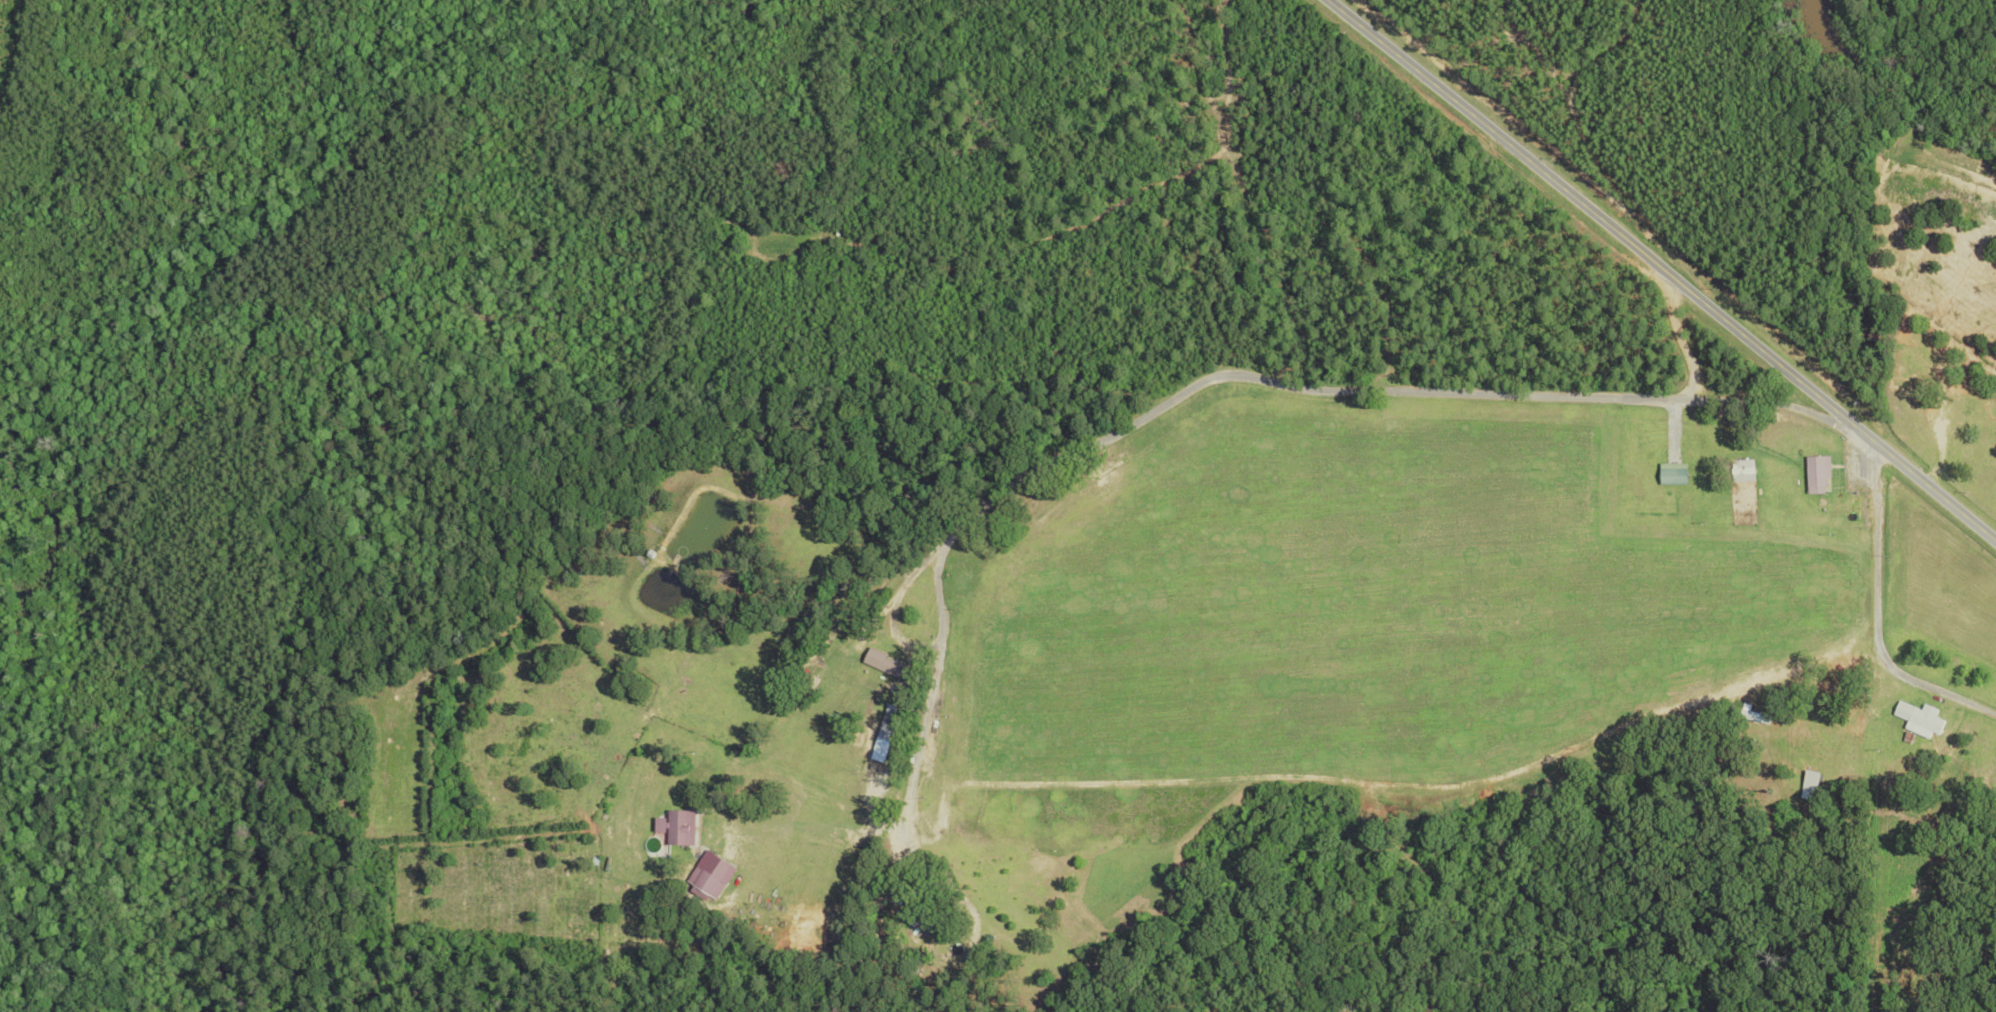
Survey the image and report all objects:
road: (1598, 220)
road: (1204, 379)
building: (1743, 470)
building: (1817, 473)
building: (1672, 474)
road: (1932, 497)
road: (885, 600)
road: (1872, 618)
building: (883, 663)
road: (1789, 666)
building: (1920, 718)
building: (885, 722)
building: (675, 826)
road: (798, 832)
building: (703, 881)

